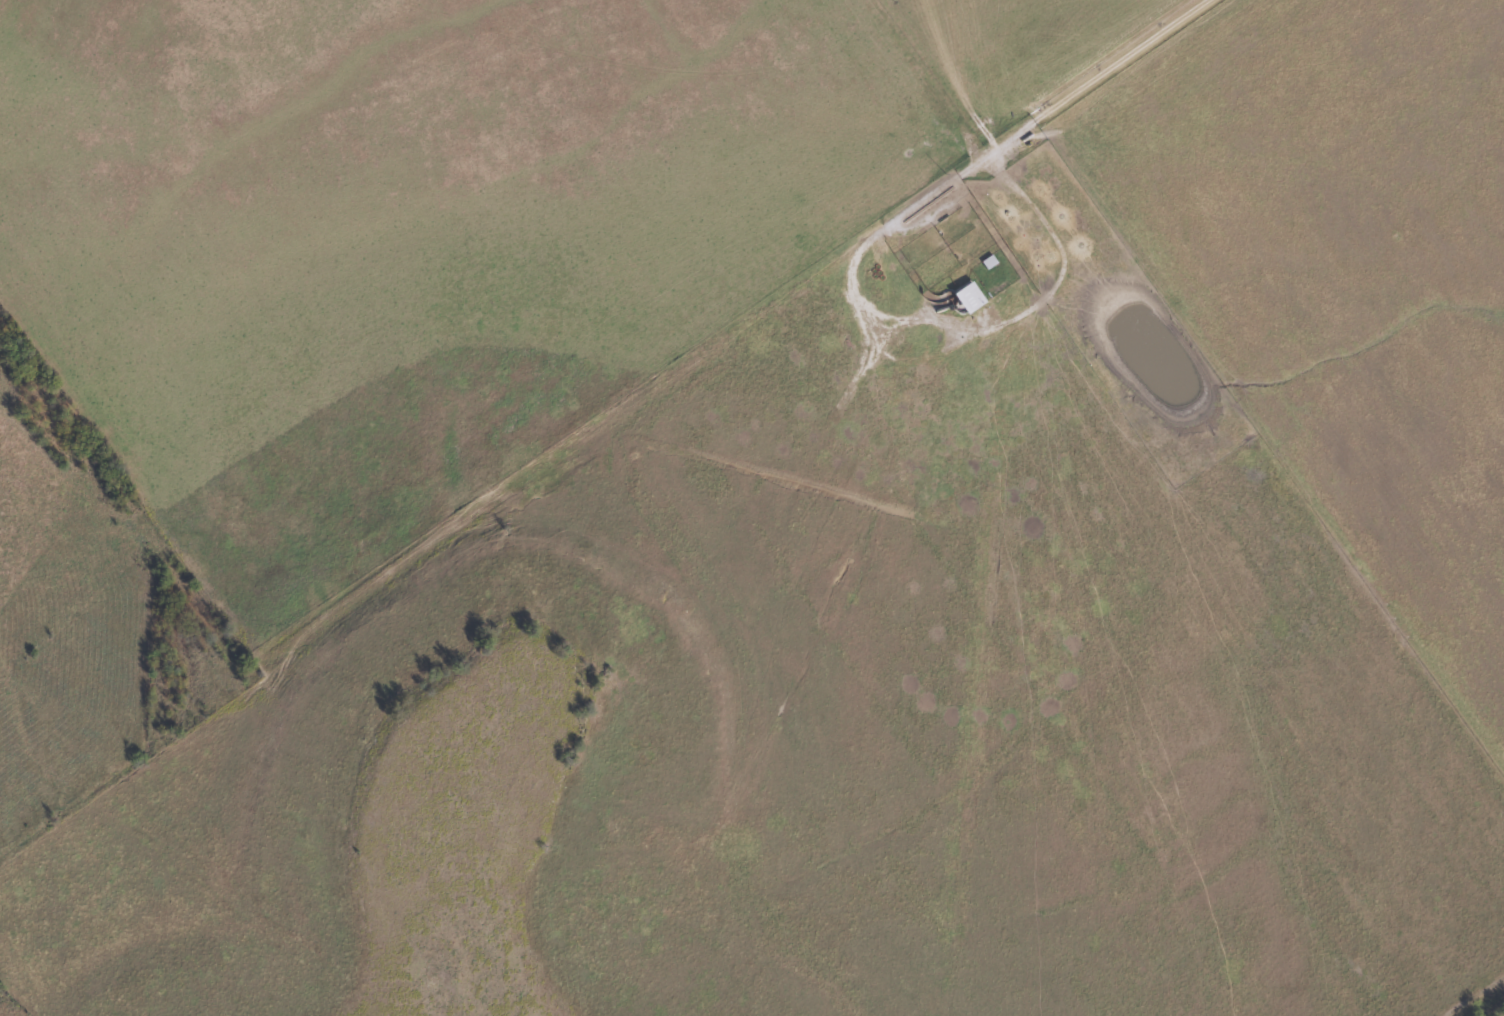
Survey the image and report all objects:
road: (1089, 84)

